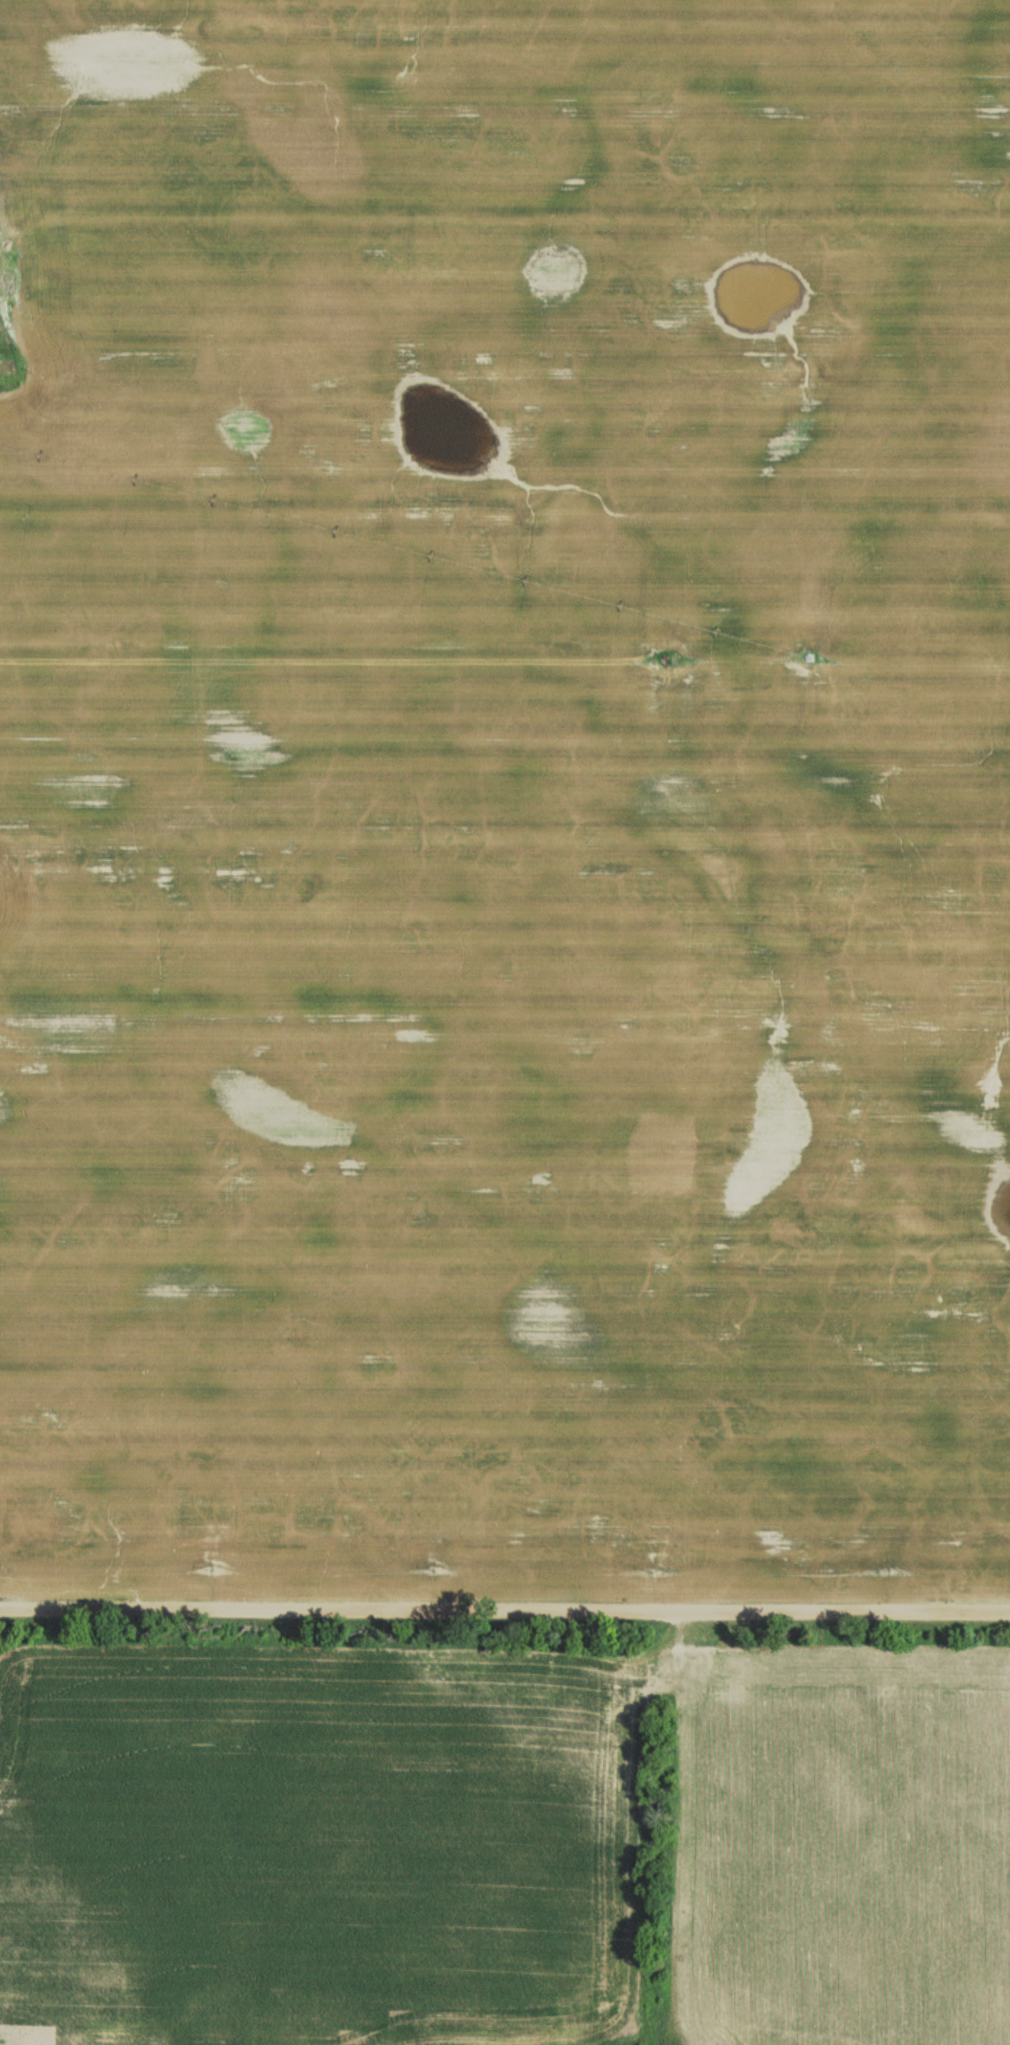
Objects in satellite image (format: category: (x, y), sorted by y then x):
road: (505, 1610)

